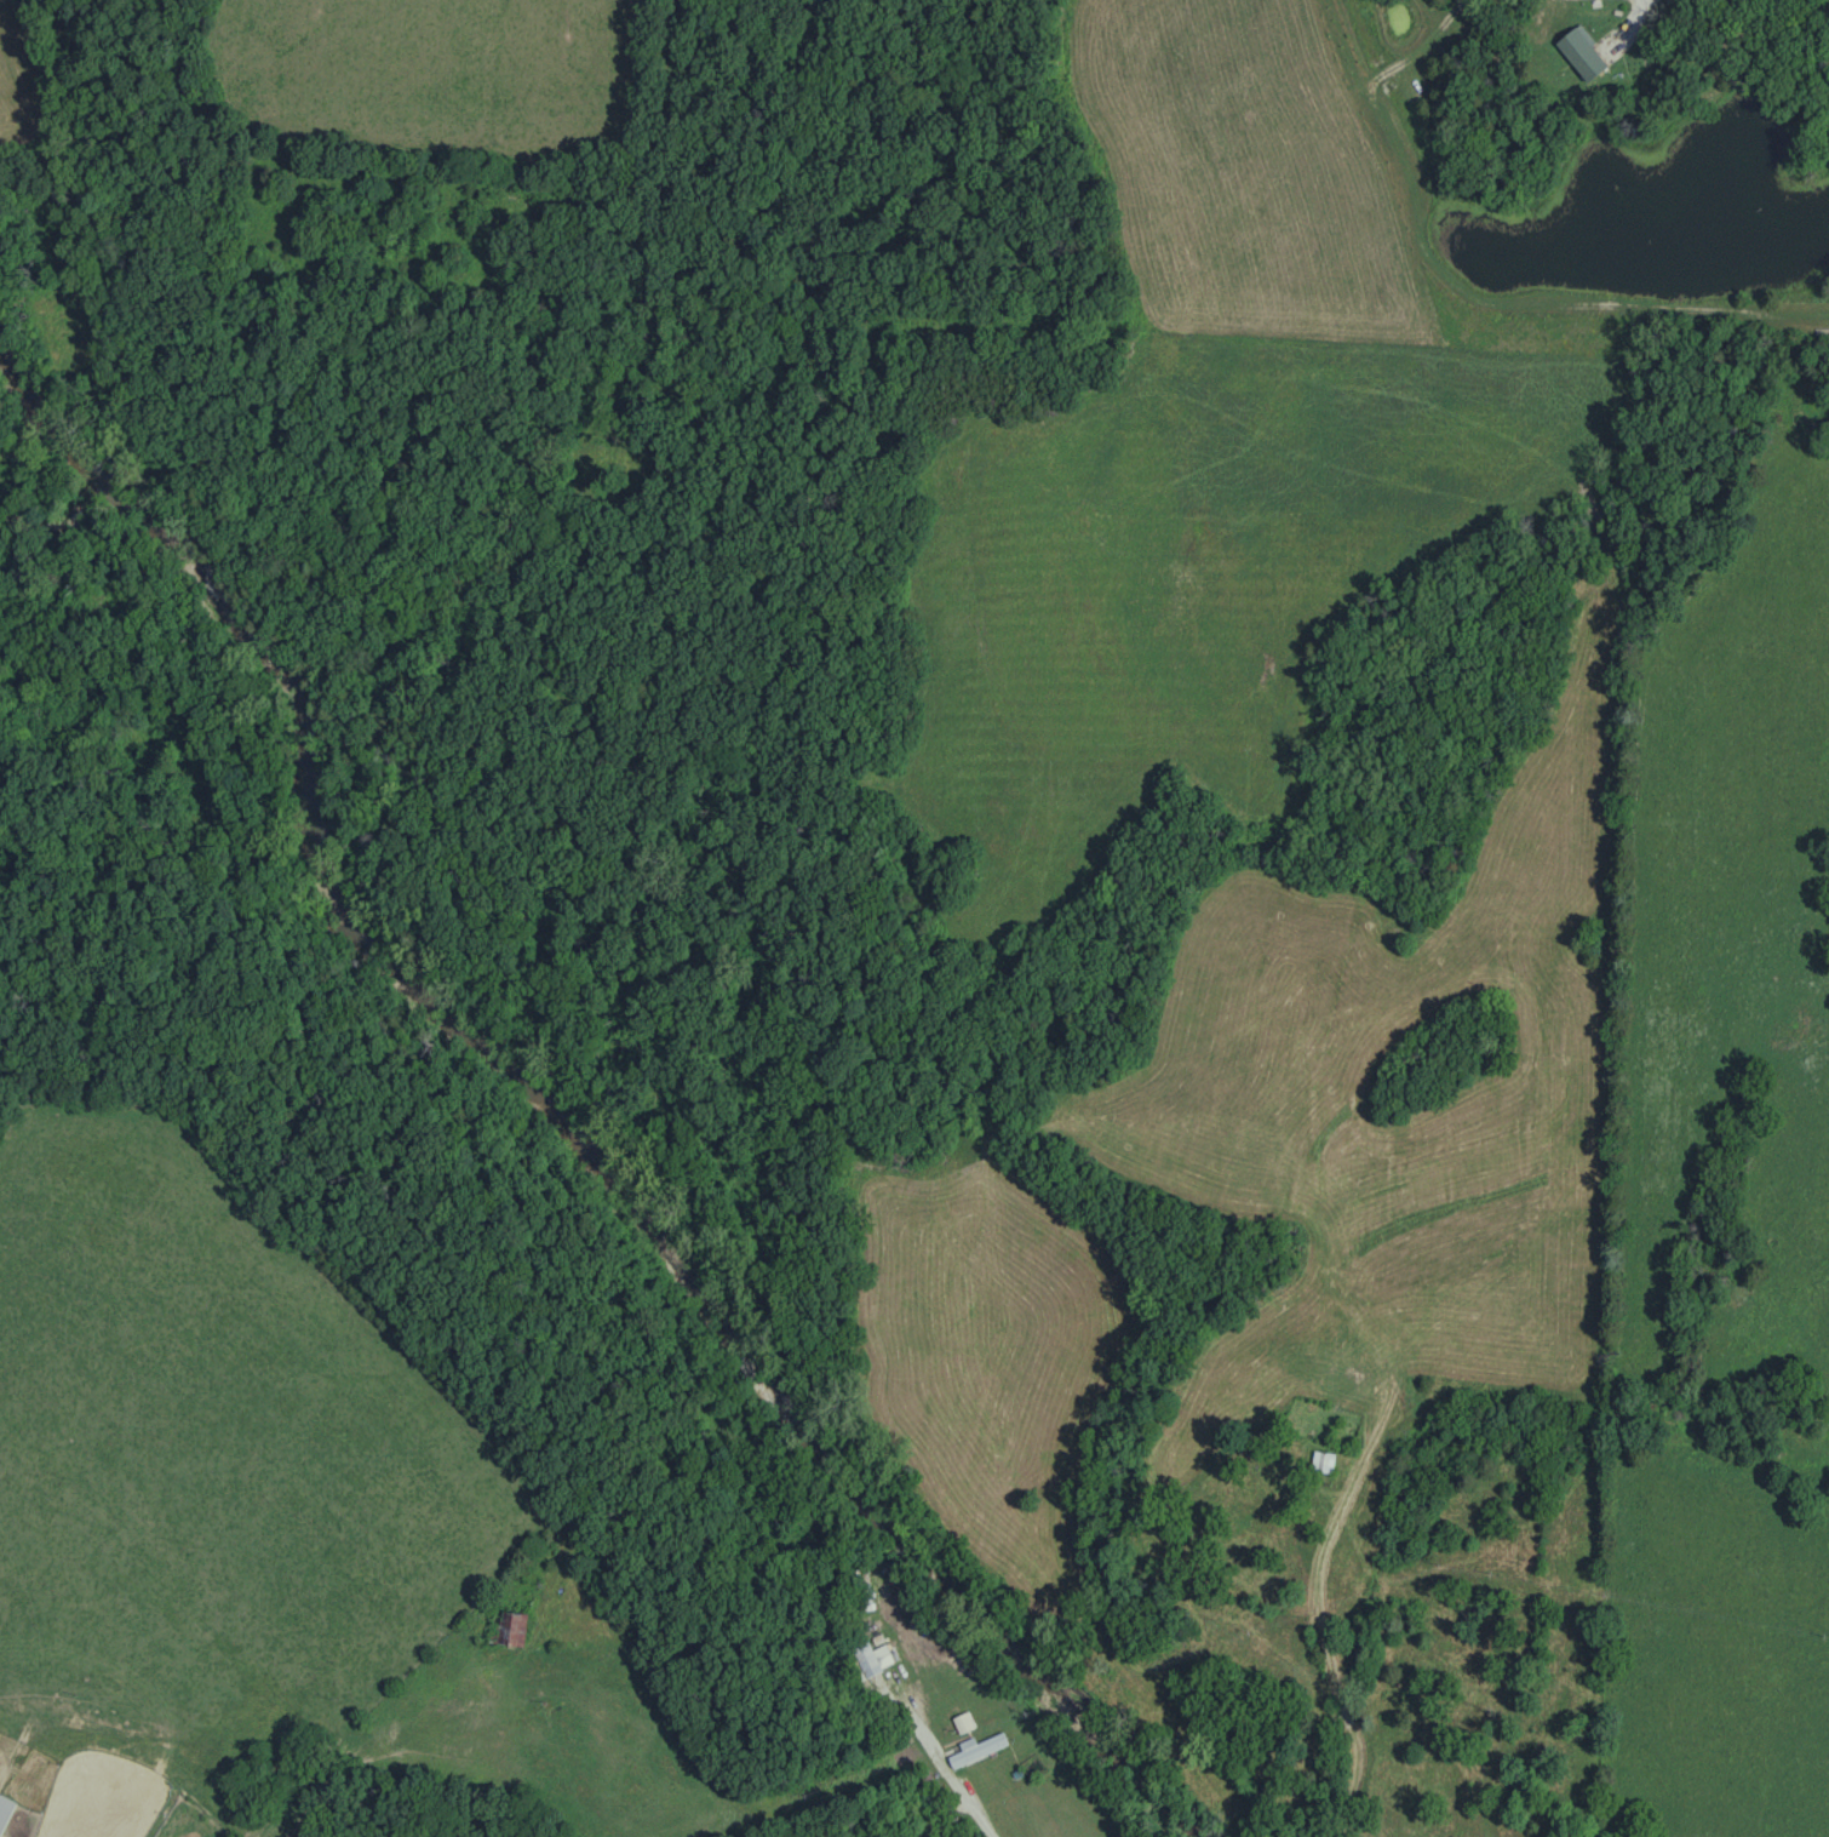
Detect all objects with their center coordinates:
road: (1628, 19)
building: (1586, 55)
building: (1326, 1464)
building: (514, 1629)
building: (875, 1660)
road: (1341, 1696)
building: (965, 1726)
building: (980, 1752)
road: (942, 1769)
building: (5, 1812)

